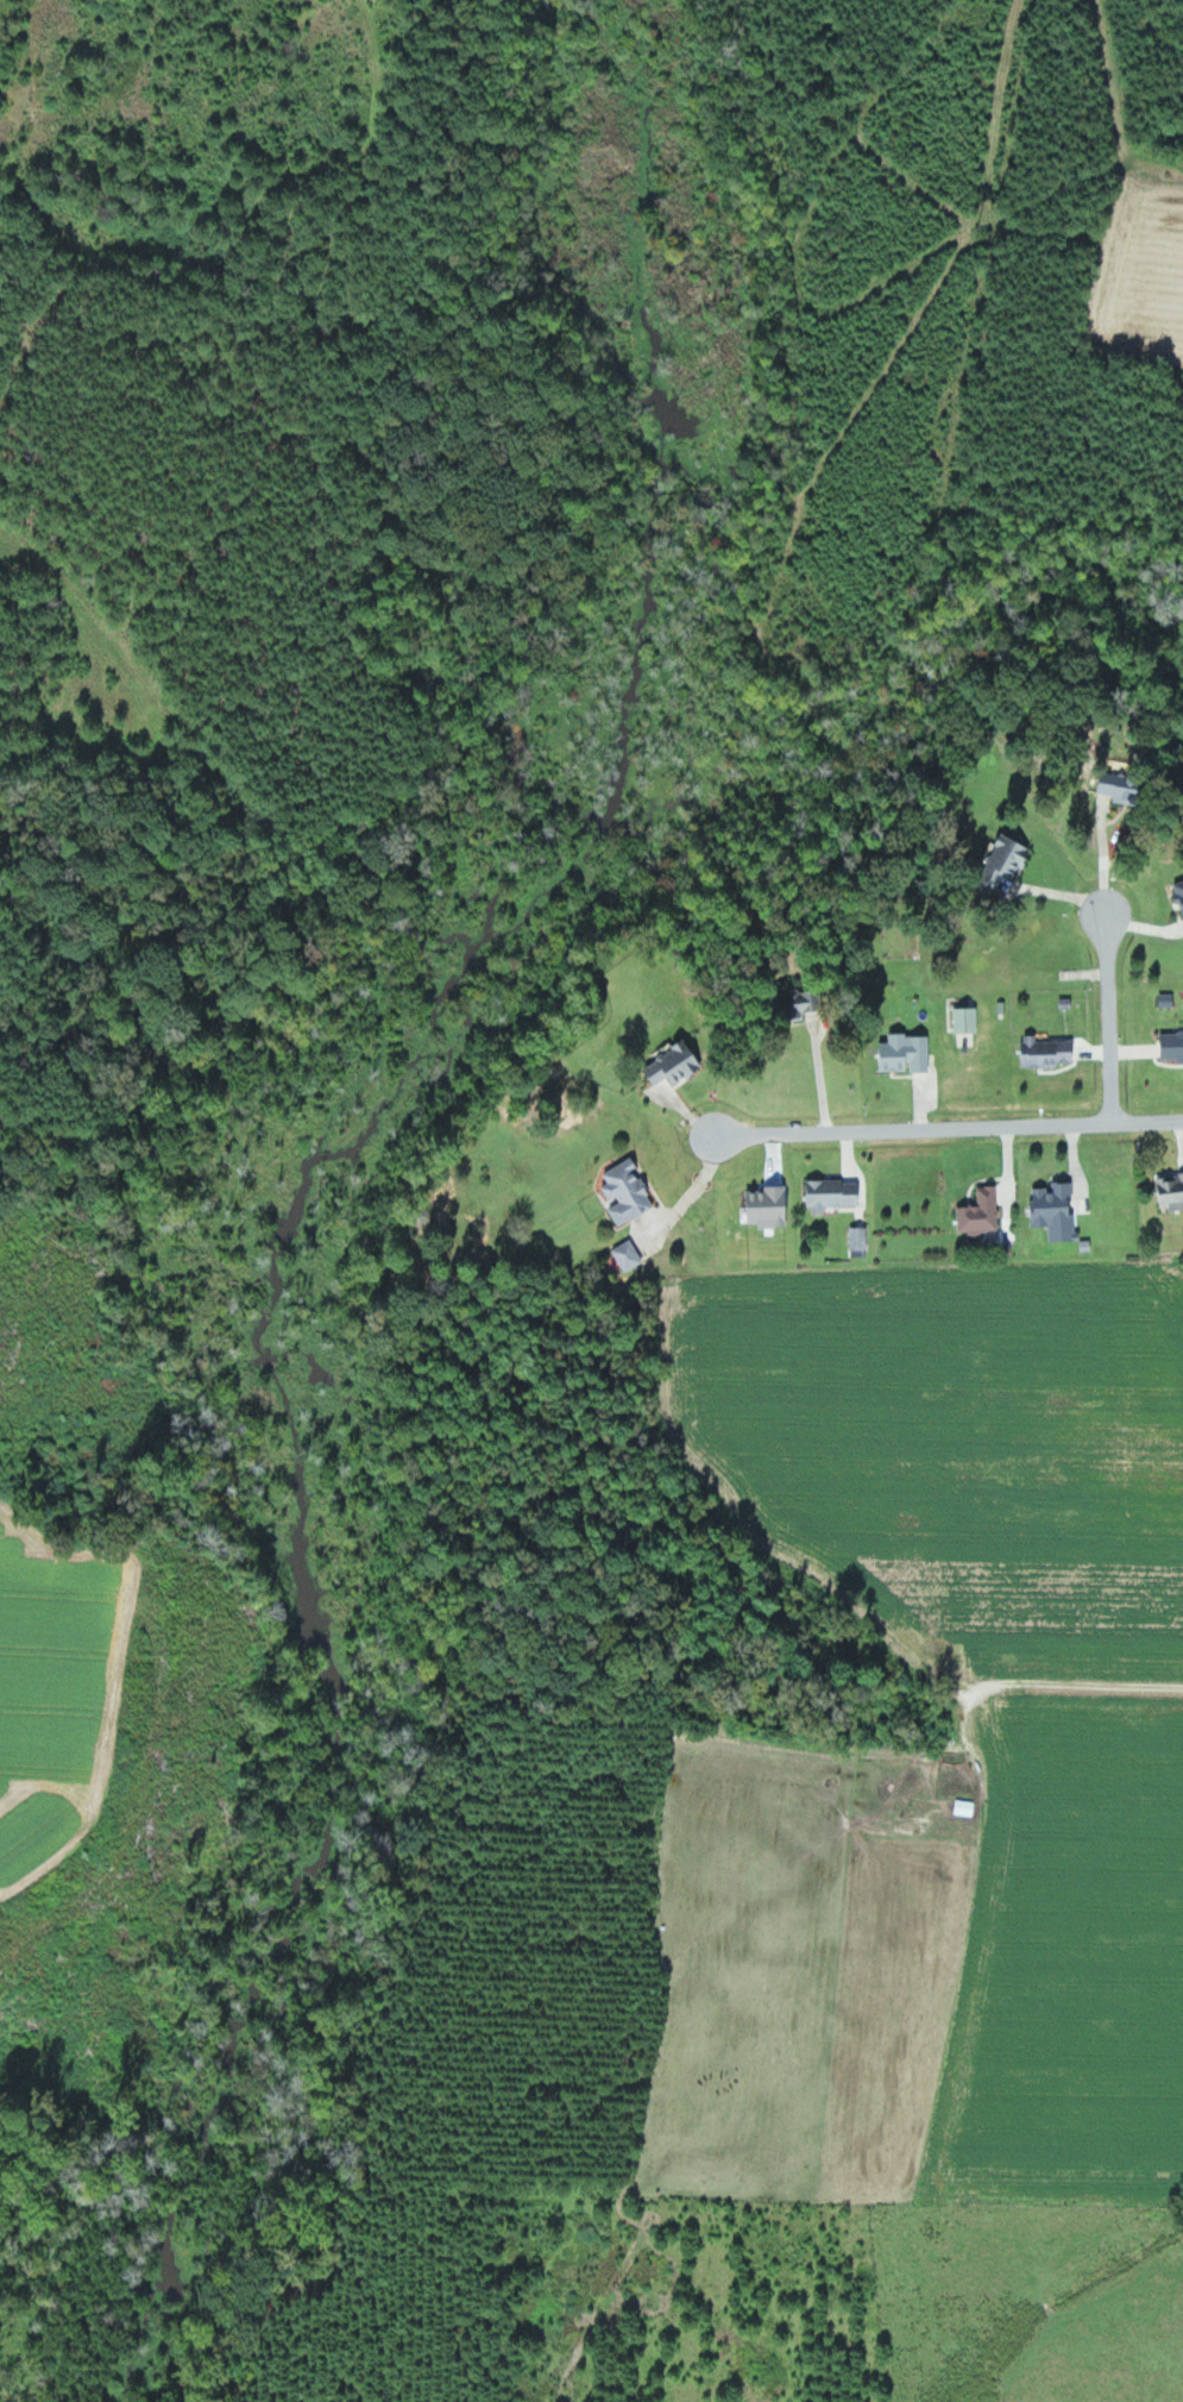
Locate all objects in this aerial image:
building: (1122, 786)
building: (1179, 892)
building: (803, 1002)
road: (1113, 1015)
building: (968, 1018)
building: (1172, 1046)
building: (1049, 1051)
building: (906, 1052)
building: (677, 1062)
road: (950, 1128)
building: (1171, 1190)
building: (629, 1191)
building: (835, 1193)
building: (1055, 1203)
building: (982, 1212)
building: (630, 1255)
building: (613, 1262)

